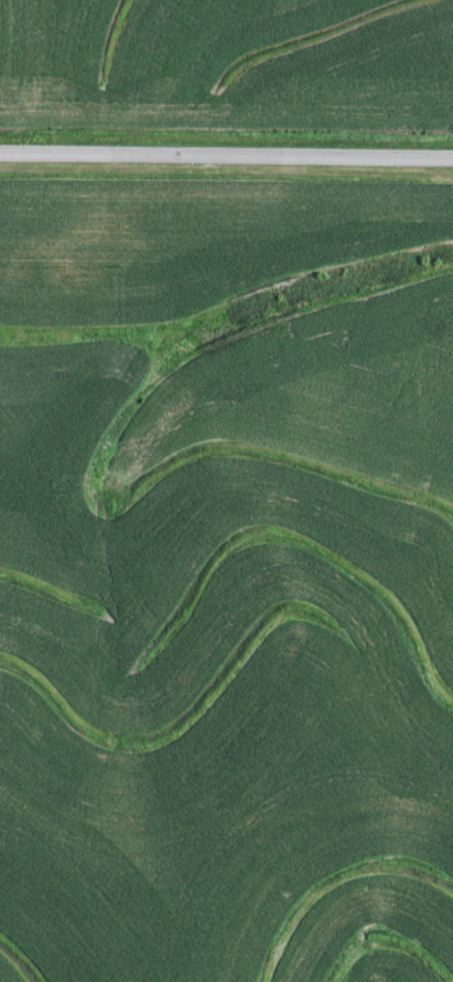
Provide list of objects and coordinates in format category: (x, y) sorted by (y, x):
road: (226, 156)

